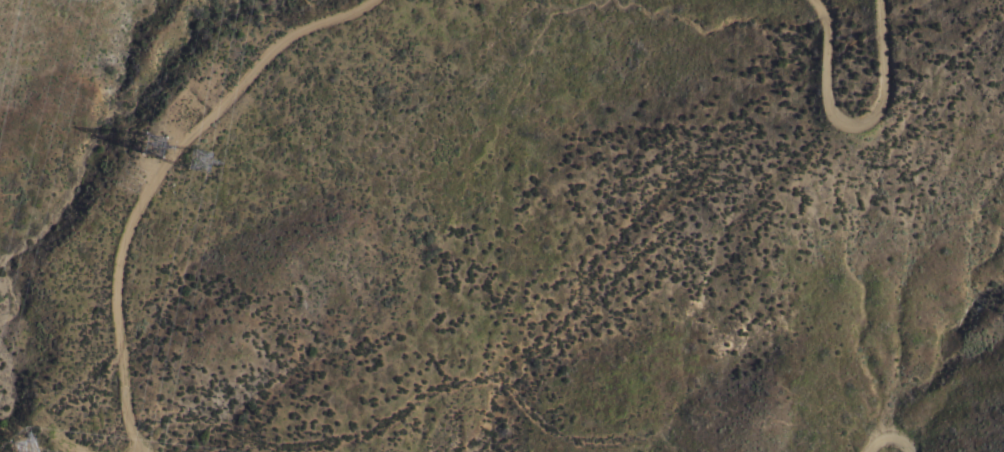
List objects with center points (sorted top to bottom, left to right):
road: (852, 109)
power tower: (151, 160)
power tower: (198, 169)
road: (140, 181)
road: (890, 440)

